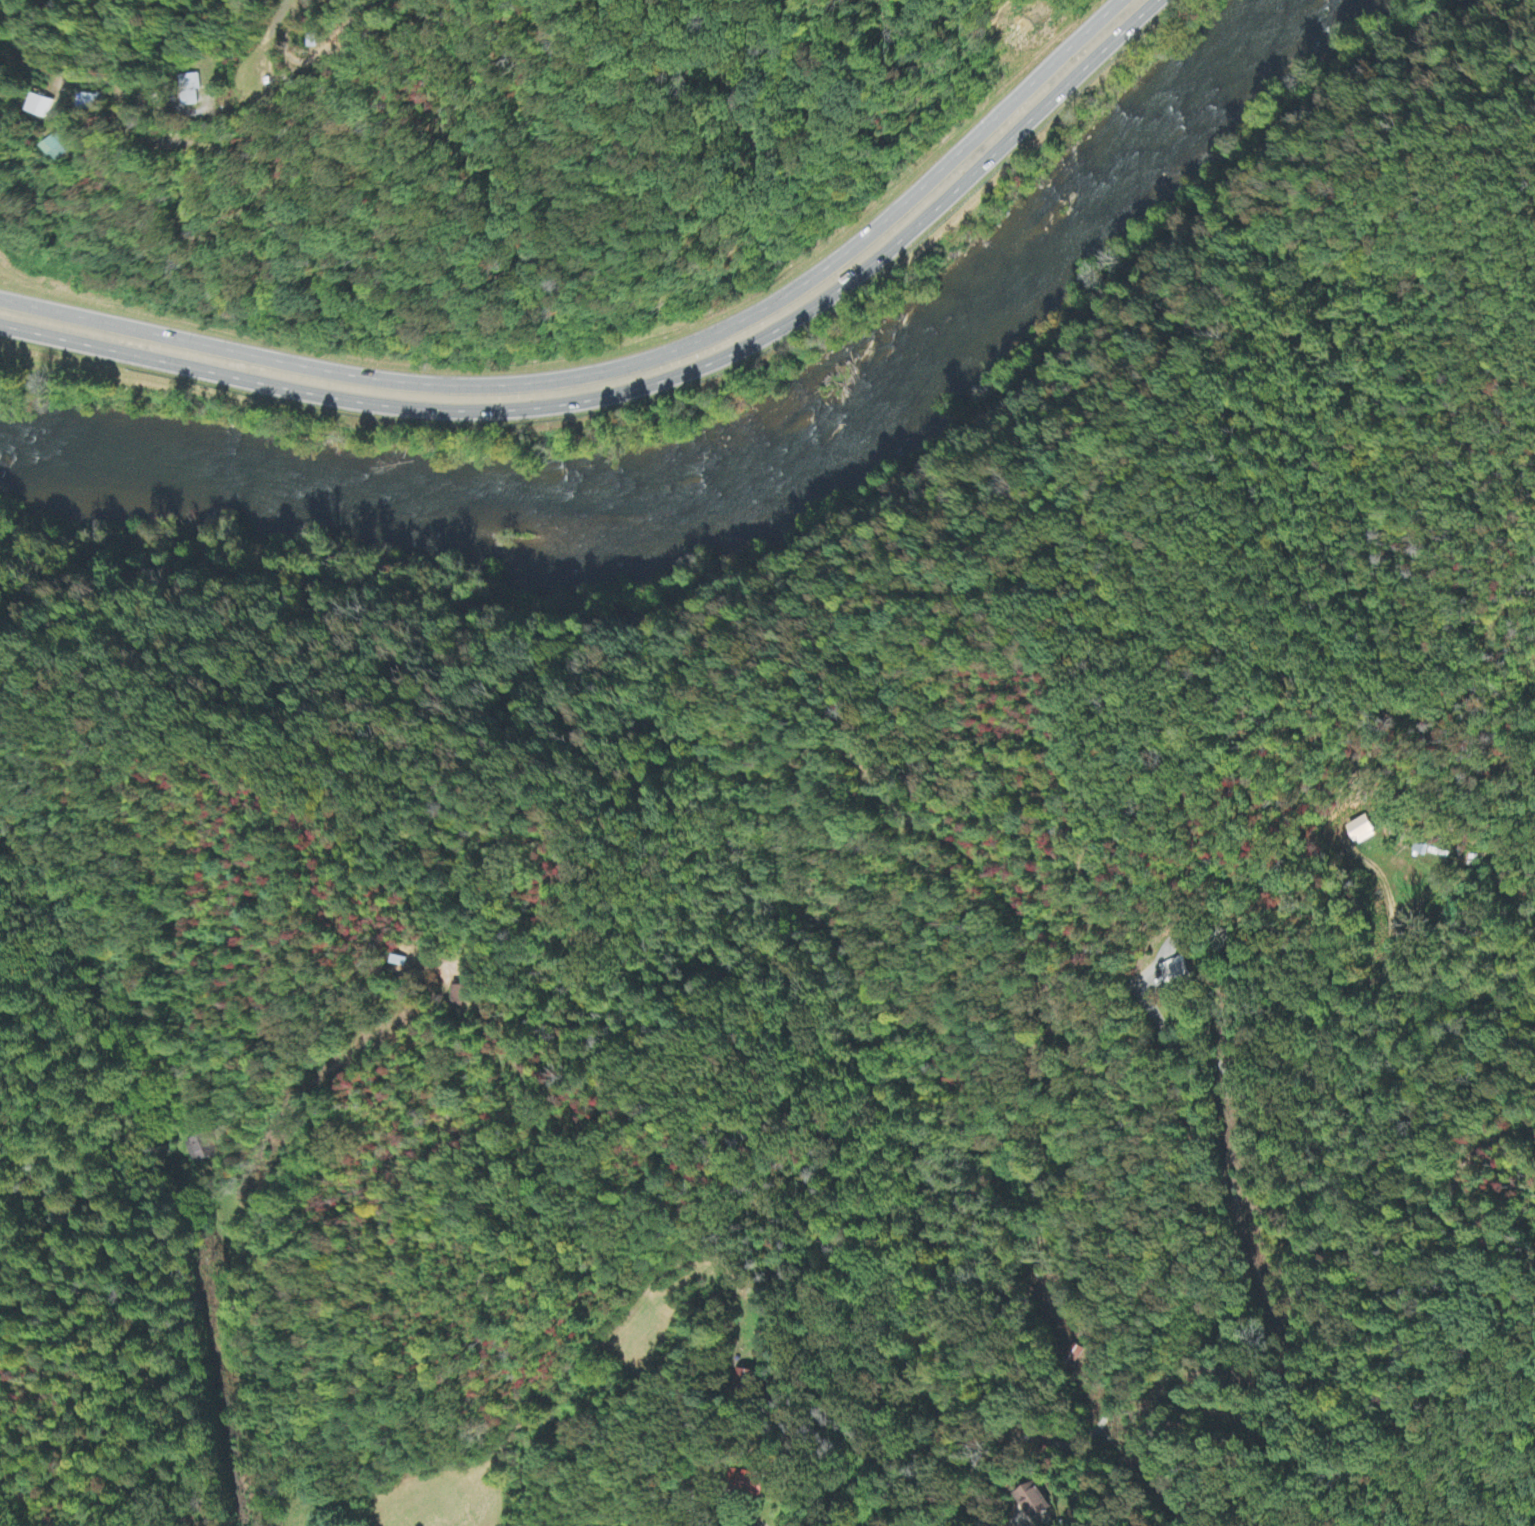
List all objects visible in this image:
building: (313, 42)
building: (193, 91)
building: (42, 107)
building: (60, 149)
road: (618, 365)
road: (640, 385)
river: (742, 474)
railway: (823, 522)
building: (1361, 829)
building: (1178, 972)
building: (464, 997)
road: (1174, 1052)
building: (200, 1149)
road: (221, 1215)
building: (748, 1379)
building: (751, 1482)
building: (1034, 1502)

